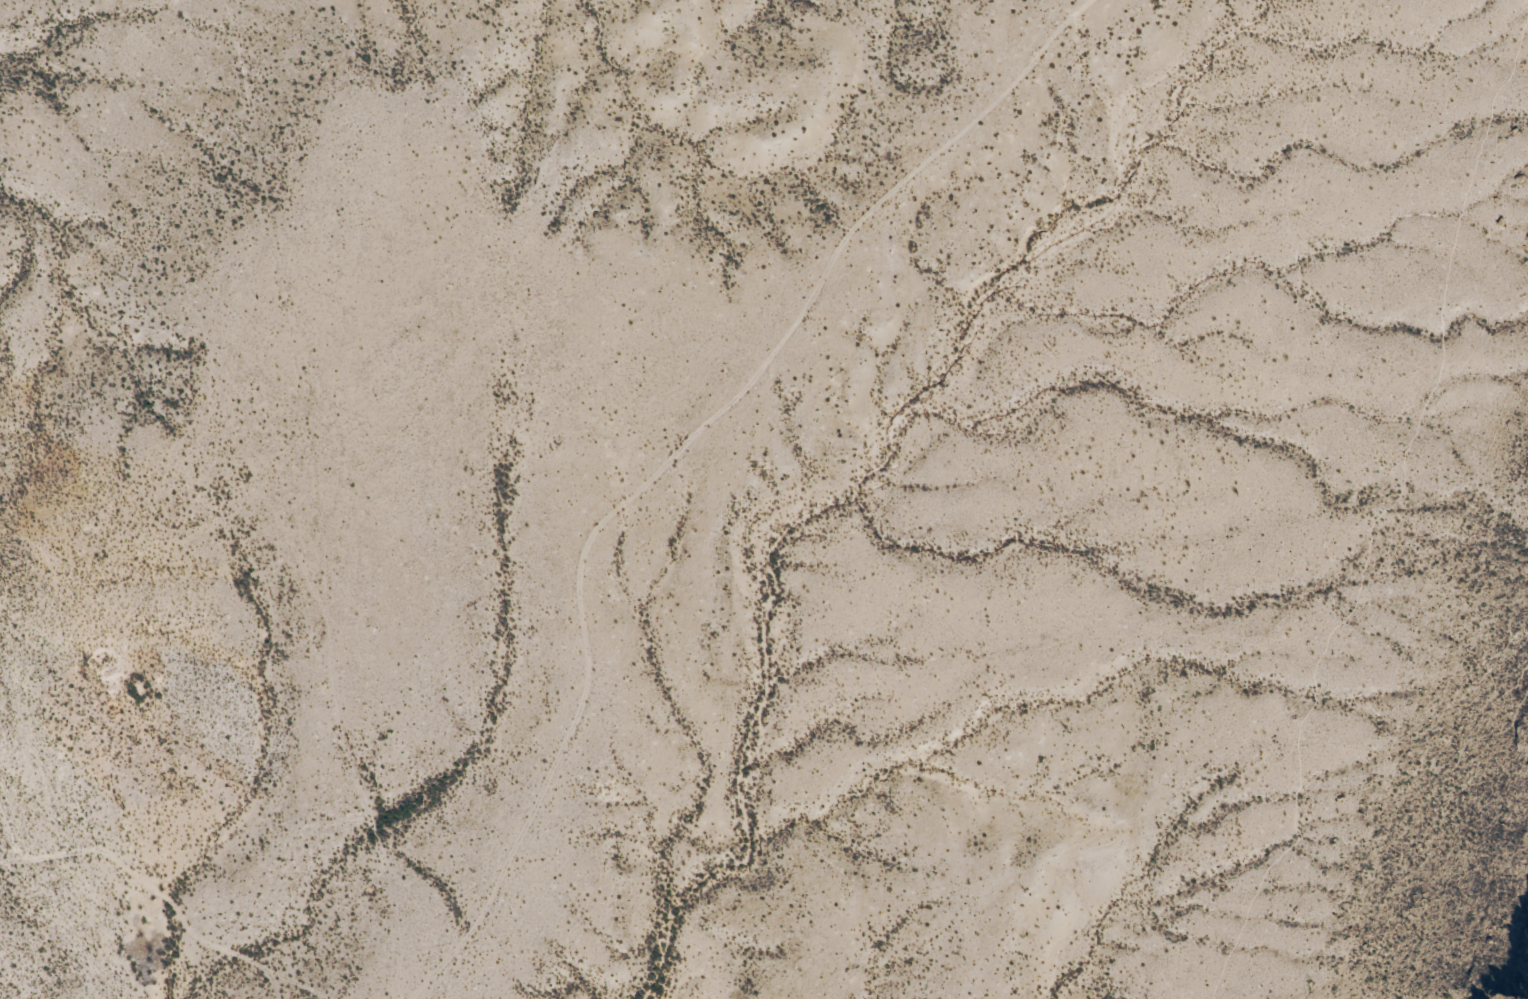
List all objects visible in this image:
road: (667, 454)

